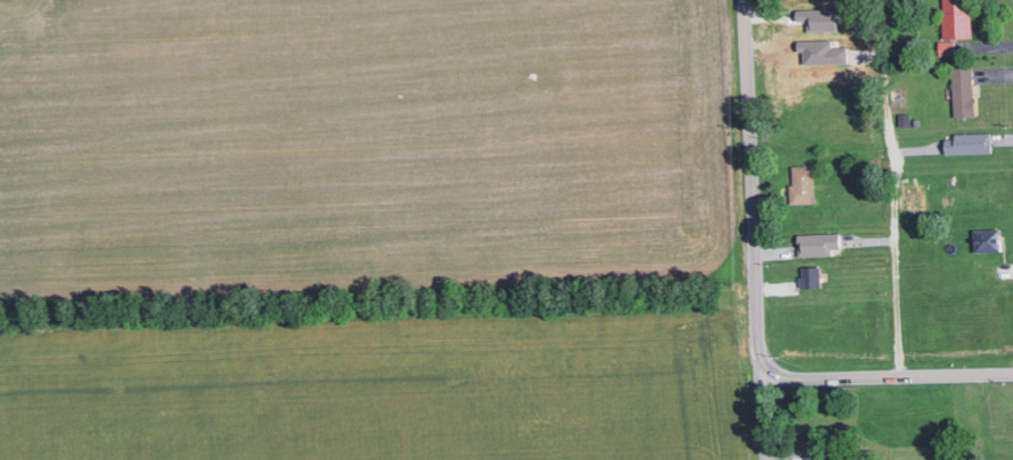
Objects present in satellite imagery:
building: (819, 19)
building: (958, 19)
building: (947, 48)
building: (823, 54)
building: (964, 92)
building: (972, 144)
road: (750, 176)
building: (802, 185)
building: (914, 197)
building: (988, 240)
building: (818, 244)
building: (811, 277)
road: (879, 378)
road: (759, 407)
building: (814, 458)

